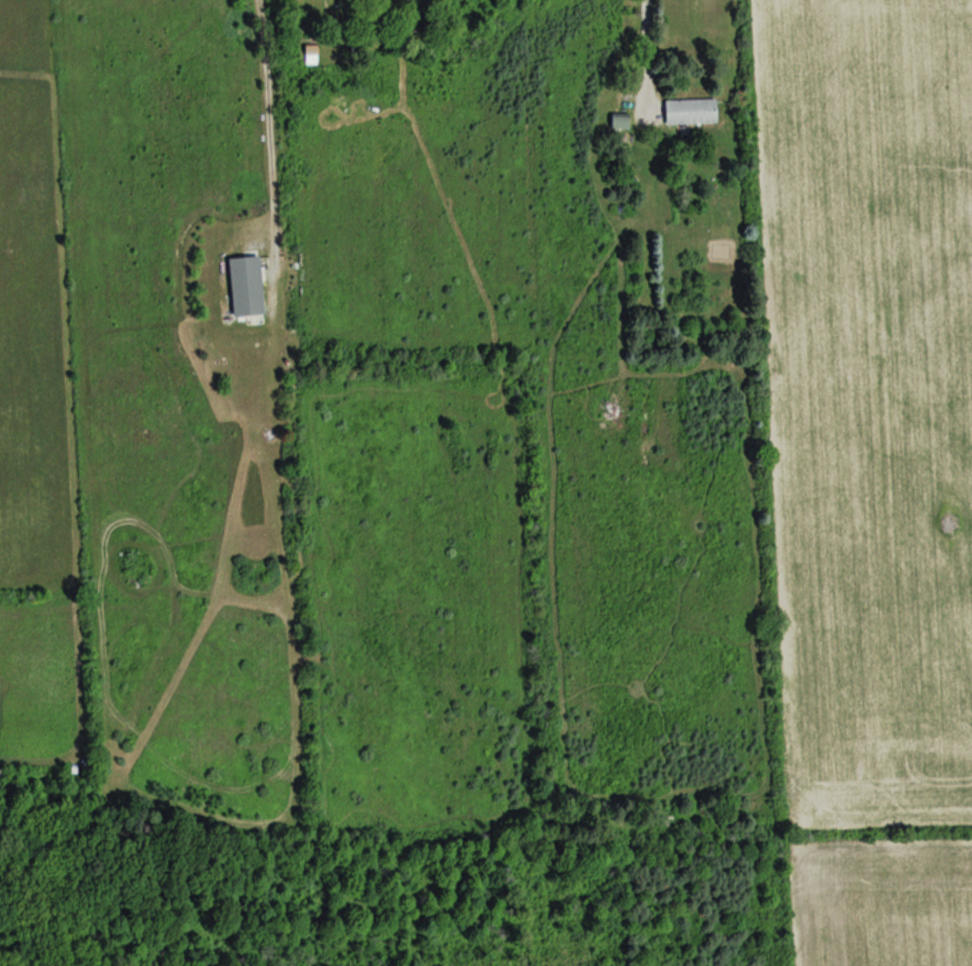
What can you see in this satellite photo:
road: (647, 47)
building: (688, 112)
building: (617, 122)
building: (243, 286)

